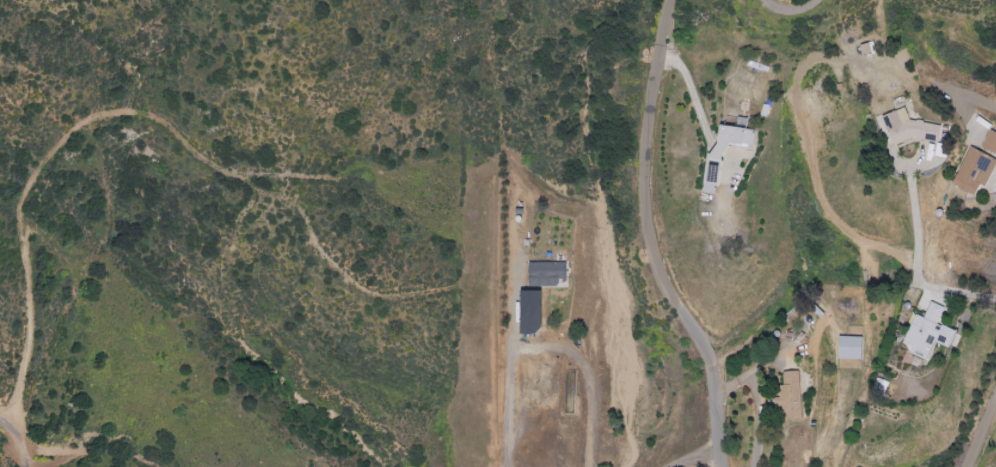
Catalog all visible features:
road: (793, 7)
road: (693, 95)
road: (974, 98)
building: (906, 129)
building: (989, 142)
road: (721, 151)
road: (728, 161)
building: (711, 170)
building: (973, 171)
road: (652, 239)
road: (917, 266)
building: (549, 273)
road: (241, 279)
building: (535, 312)
building: (926, 332)
building: (848, 348)
road: (588, 376)
road: (509, 380)
building: (788, 397)
road: (980, 432)
road: (17, 440)
road: (697, 458)

